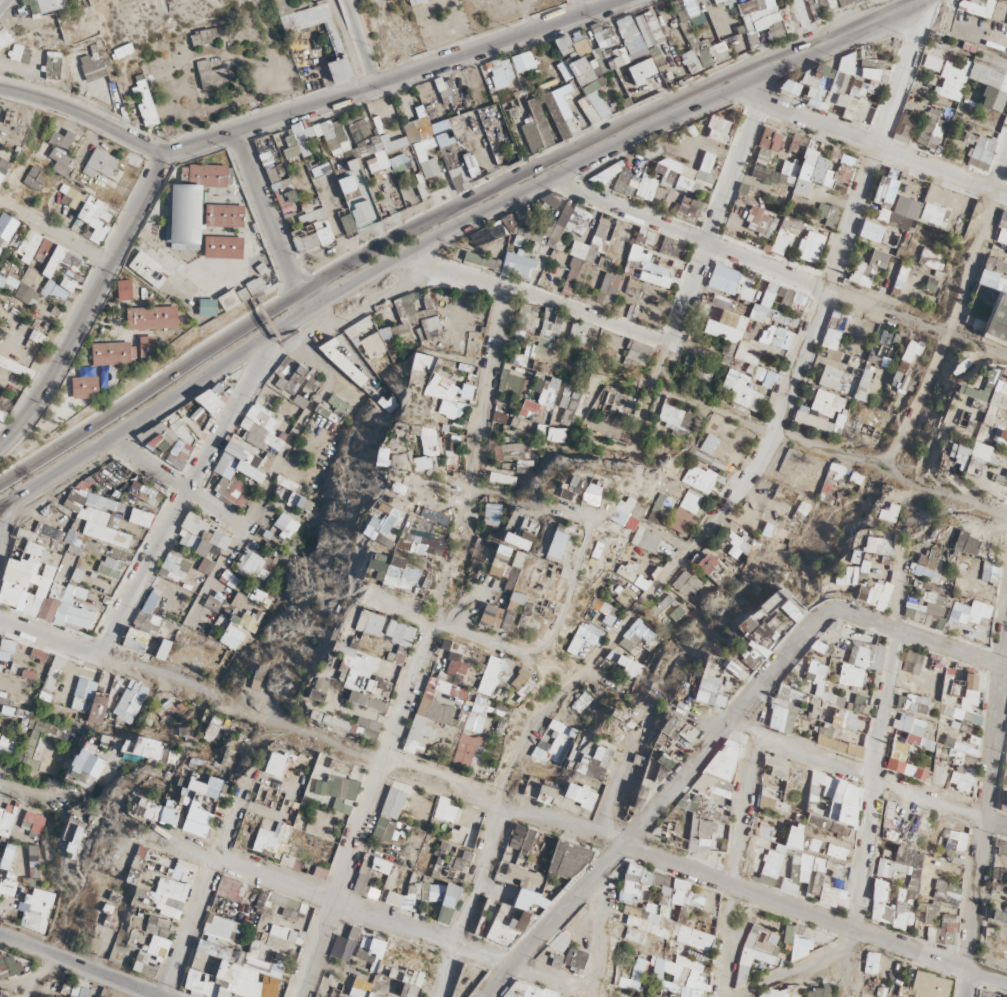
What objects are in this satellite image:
building: (717, 0)
road: (2, 2)
building: (772, 18)
building: (686, 29)
building: (626, 40)
building: (581, 46)
building: (641, 67)
building: (501, 73)
building: (791, 84)
building: (939, 88)
building: (829, 89)
road: (233, 131)
building: (537, 141)
building: (769, 142)
building: (819, 165)
road: (438, 214)
road: (456, 229)
building: (794, 239)
building: (963, 453)
building: (868, 575)
building: (981, 611)
building: (944, 723)
road: (986, 813)

